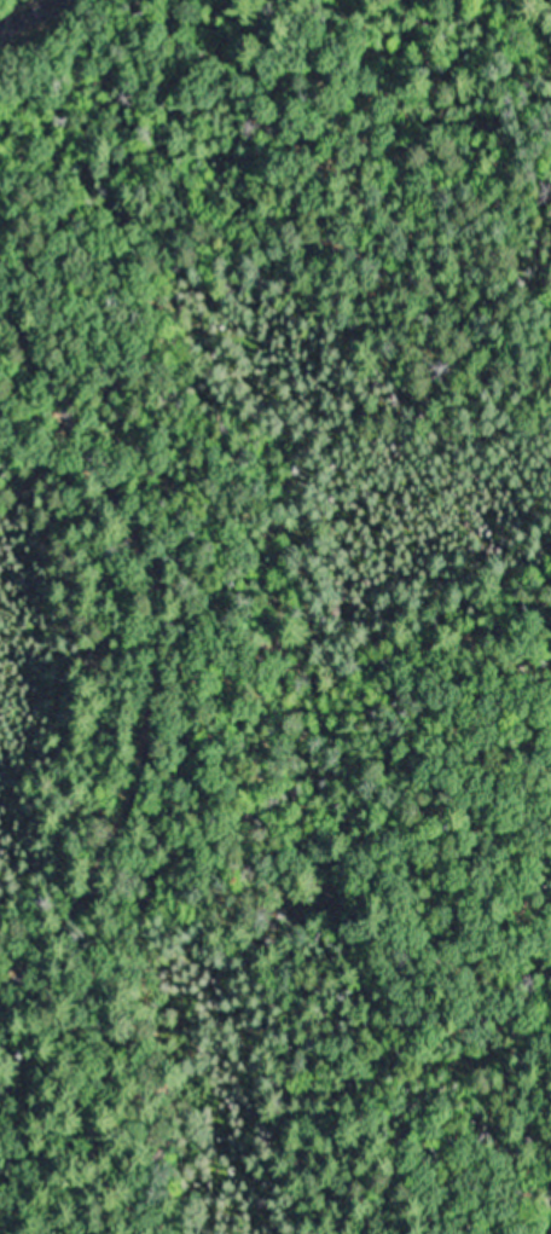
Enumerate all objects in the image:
road: (33, 15)
road: (155, 665)

